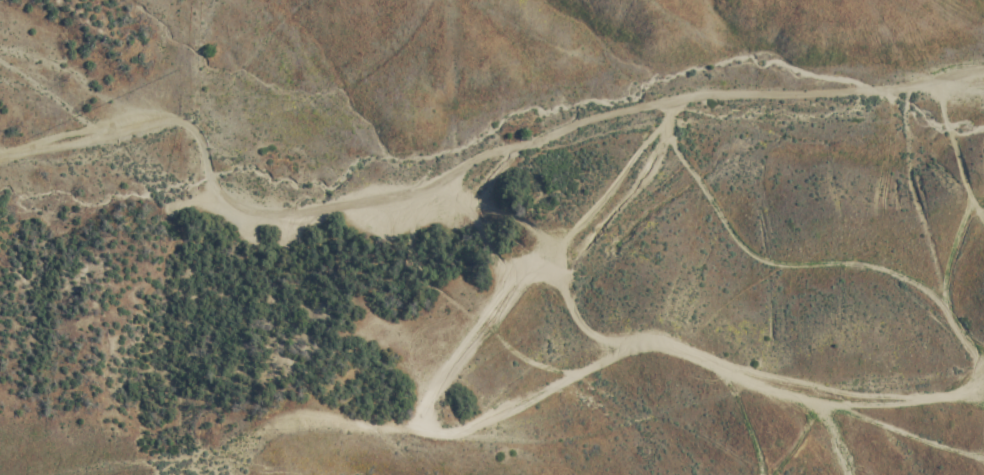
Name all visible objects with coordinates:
road: (471, 172)

